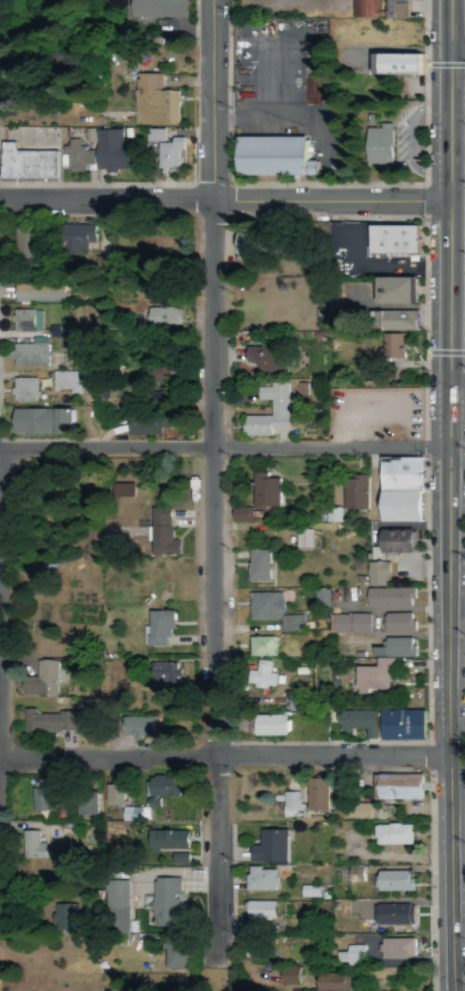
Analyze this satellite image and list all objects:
building: (157, 9)
building: (365, 9)
building: (395, 9)
road: (455, 50)
building: (396, 63)
road: (207, 100)
building: (153, 102)
building: (154, 135)
building: (380, 146)
building: (112, 152)
building: (76, 155)
building: (166, 156)
building: (275, 157)
building: (26, 163)
road: (104, 201)
road: (326, 201)
building: (394, 238)
building: (74, 241)
building: (249, 246)
building: (24, 249)
building: (399, 290)
building: (36, 293)
building: (162, 319)
building: (396, 321)
building: (23, 322)
road: (206, 325)
building: (391, 350)
building: (26, 357)
building: (265, 361)
building: (63, 383)
road: (454, 386)
building: (22, 391)
building: (269, 412)
building: (41, 422)
building: (145, 426)
road: (102, 448)
road: (324, 448)
building: (121, 490)
building: (401, 490)
building: (264, 491)
building: (353, 493)
road: (444, 495)
building: (239, 516)
building: (162, 540)
building: (300, 540)
building: (398, 543)
building: (258, 567)
building: (379, 575)
building: (390, 599)
road: (209, 602)
building: (271, 612)
building: (398, 624)
building: (351, 625)
building: (165, 631)
building: (262, 648)
building: (384, 667)
building: (164, 676)
building: (261, 676)
building: (40, 681)
building: (49, 723)
building: (358, 723)
building: (271, 726)
building: (403, 726)
building: (137, 727)
road: (327, 755)
road: (105, 757)
building: (400, 788)
building: (340, 790)
building: (162, 791)
building: (317, 795)
building: (113, 796)
building: (40, 798)
building: (287, 804)
building: (85, 805)
building: (358, 813)
building: (130, 814)
building: (392, 835)
building: (169, 840)
building: (30, 846)
building: (268, 847)
building: (178, 859)
road: (211, 861)
building: (261, 880)
building: (393, 882)
building: (310, 892)
building: (167, 903)
building: (115, 908)
building: (260, 911)
building: (63, 916)
building: (394, 916)
building: (395, 950)
building: (176, 954)
building: (354, 956)
building: (288, 977)
building: (333, 983)

